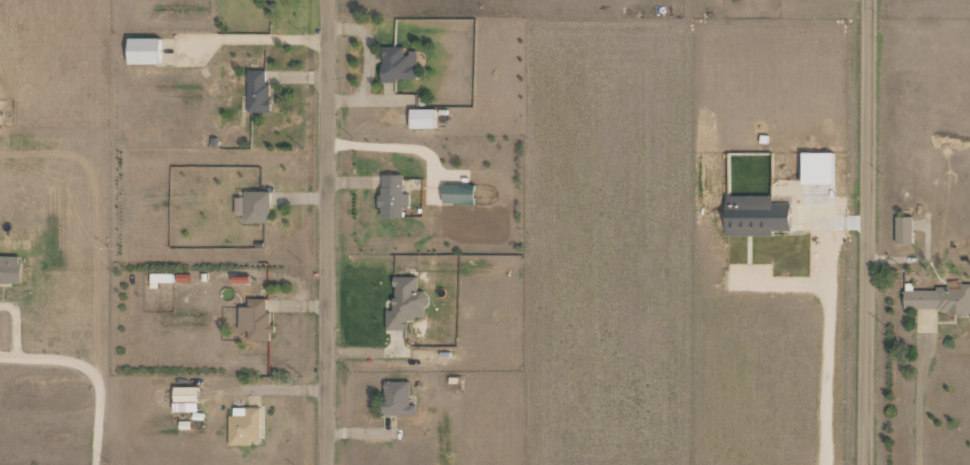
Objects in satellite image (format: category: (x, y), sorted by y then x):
building: (142, 50)
building: (397, 64)
building: (257, 91)
building: (421, 118)
building: (816, 167)
building: (457, 193)
building: (391, 196)
building: (254, 206)
building: (755, 215)
building: (903, 229)
road: (327, 232)
road: (867, 232)
building: (9, 269)
building: (159, 279)
building: (937, 298)
building: (405, 303)
building: (255, 320)
building: (184, 393)
building: (396, 399)
building: (244, 425)

